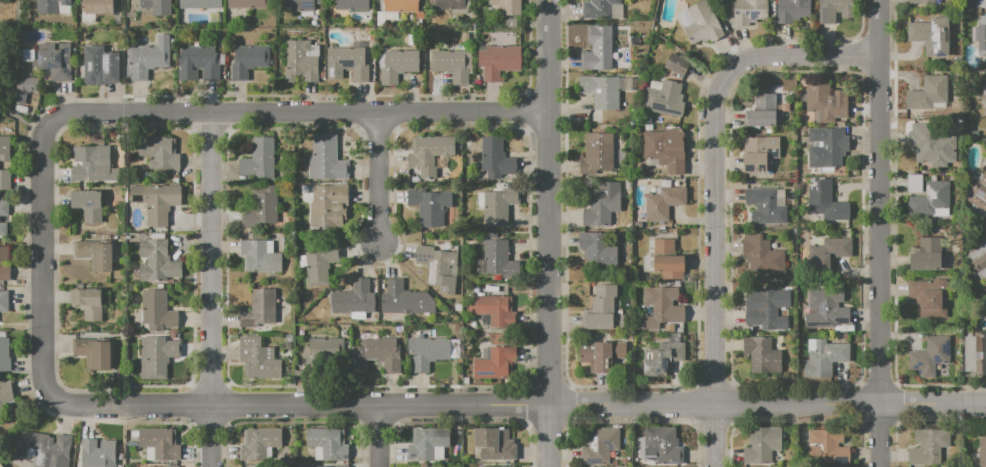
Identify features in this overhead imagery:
building: (922, 1)
building: (200, 3)
building: (248, 3)
building: (981, 3)
building: (351, 4)
building: (299, 5)
building: (452, 5)
building: (53, 6)
building: (156, 6)
building: (401, 6)
building: (504, 7)
building: (602, 8)
building: (96, 9)
building: (792, 10)
building: (835, 10)
building: (749, 12)
building: (511, 22)
building: (700, 23)
road: (4, 33)
building: (980, 35)
building: (932, 36)
building: (598, 48)
road: (548, 55)
building: (148, 57)
building: (201, 60)
building: (249, 60)
building: (55, 61)
building: (499, 61)
building: (300, 63)
building: (347, 63)
building: (452, 64)
building: (677, 64)
building: (398, 65)
building: (100, 66)
building: (25, 87)
building: (601, 90)
building: (982, 92)
building: (929, 94)
building: (664, 98)
building: (826, 103)
building: (762, 111)
road: (304, 112)
road: (23, 120)
building: (4, 147)
building: (827, 147)
building: (928, 147)
building: (599, 149)
building: (666, 149)
building: (159, 152)
building: (759, 152)
building: (429, 153)
building: (496, 157)
building: (260, 159)
building: (326, 159)
road: (719, 162)
building: (93, 164)
building: (771, 164)
road: (376, 175)
building: (5, 179)
building: (978, 194)
building: (930, 200)
building: (156, 201)
building: (663, 202)
building: (827, 202)
building: (265, 203)
building: (89, 204)
building: (601, 204)
building: (329, 205)
building: (497, 205)
building: (429, 206)
building: (765, 206)
building: (4, 208)
building: (3, 229)
road: (880, 233)
building: (598, 251)
building: (827, 253)
building: (4, 254)
road: (45, 254)
building: (764, 254)
building: (927, 254)
building: (95, 255)
building: (260, 256)
building: (979, 258)
building: (499, 259)
building: (157, 261)
building: (668, 261)
building: (311, 267)
building: (439, 268)
building: (5, 273)
road: (547, 289)
road: (208, 290)
building: (354, 298)
building: (929, 298)
building: (405, 299)
building: (4, 301)
building: (88, 302)
building: (661, 307)
building: (765, 307)
building: (259, 309)
building: (495, 309)
building: (600, 309)
building: (827, 309)
building: (158, 311)
building: (320, 350)
building: (974, 351)
building: (94, 353)
building: (427, 353)
building: (377, 354)
building: (601, 354)
building: (4, 355)
building: (762, 355)
building: (930, 355)
building: (157, 356)
building: (824, 357)
building: (259, 359)
building: (662, 359)
building: (495, 362)
road: (570, 387)
building: (5, 394)
road: (517, 407)
road: (461, 422)
road: (294, 423)
road: (211, 425)
road: (378, 426)
road: (378, 437)
road: (721, 437)
building: (159, 443)
building: (260, 443)
building: (327, 444)
building: (428, 444)
building: (495, 444)
building: (601, 445)
building: (661, 445)
building: (762, 446)
building: (826, 446)
building: (928, 446)
building: (43, 449)
building: (982, 452)
building: (98, 453)
building: (120, 466)
building: (149, 466)
building: (326, 466)
building: (438, 466)
building: (497, 466)

